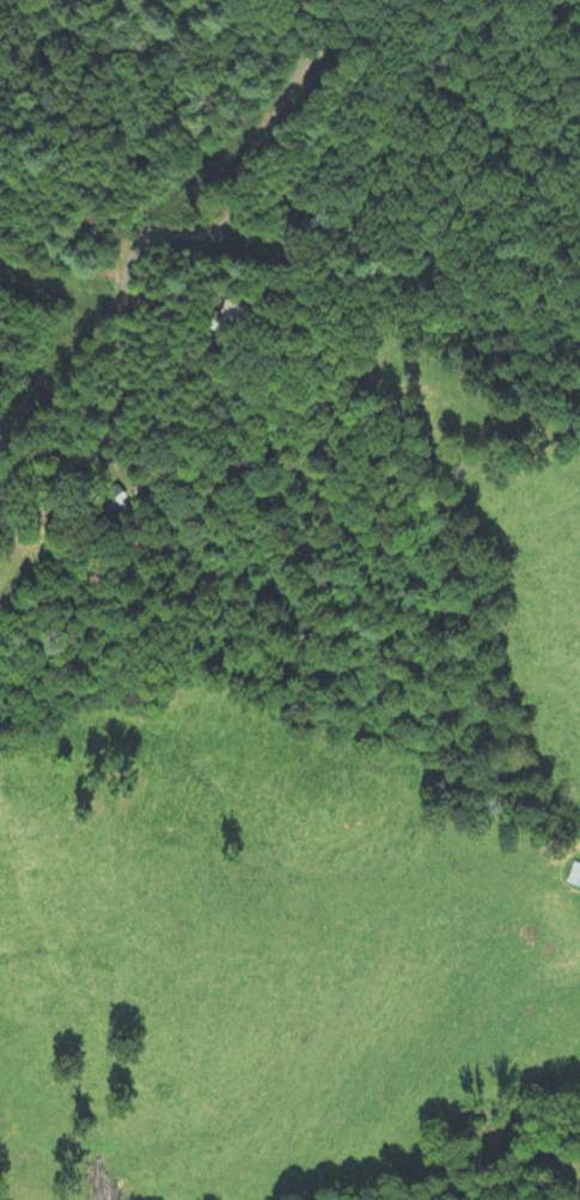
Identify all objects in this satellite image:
road: (184, 263)
building: (575, 876)

